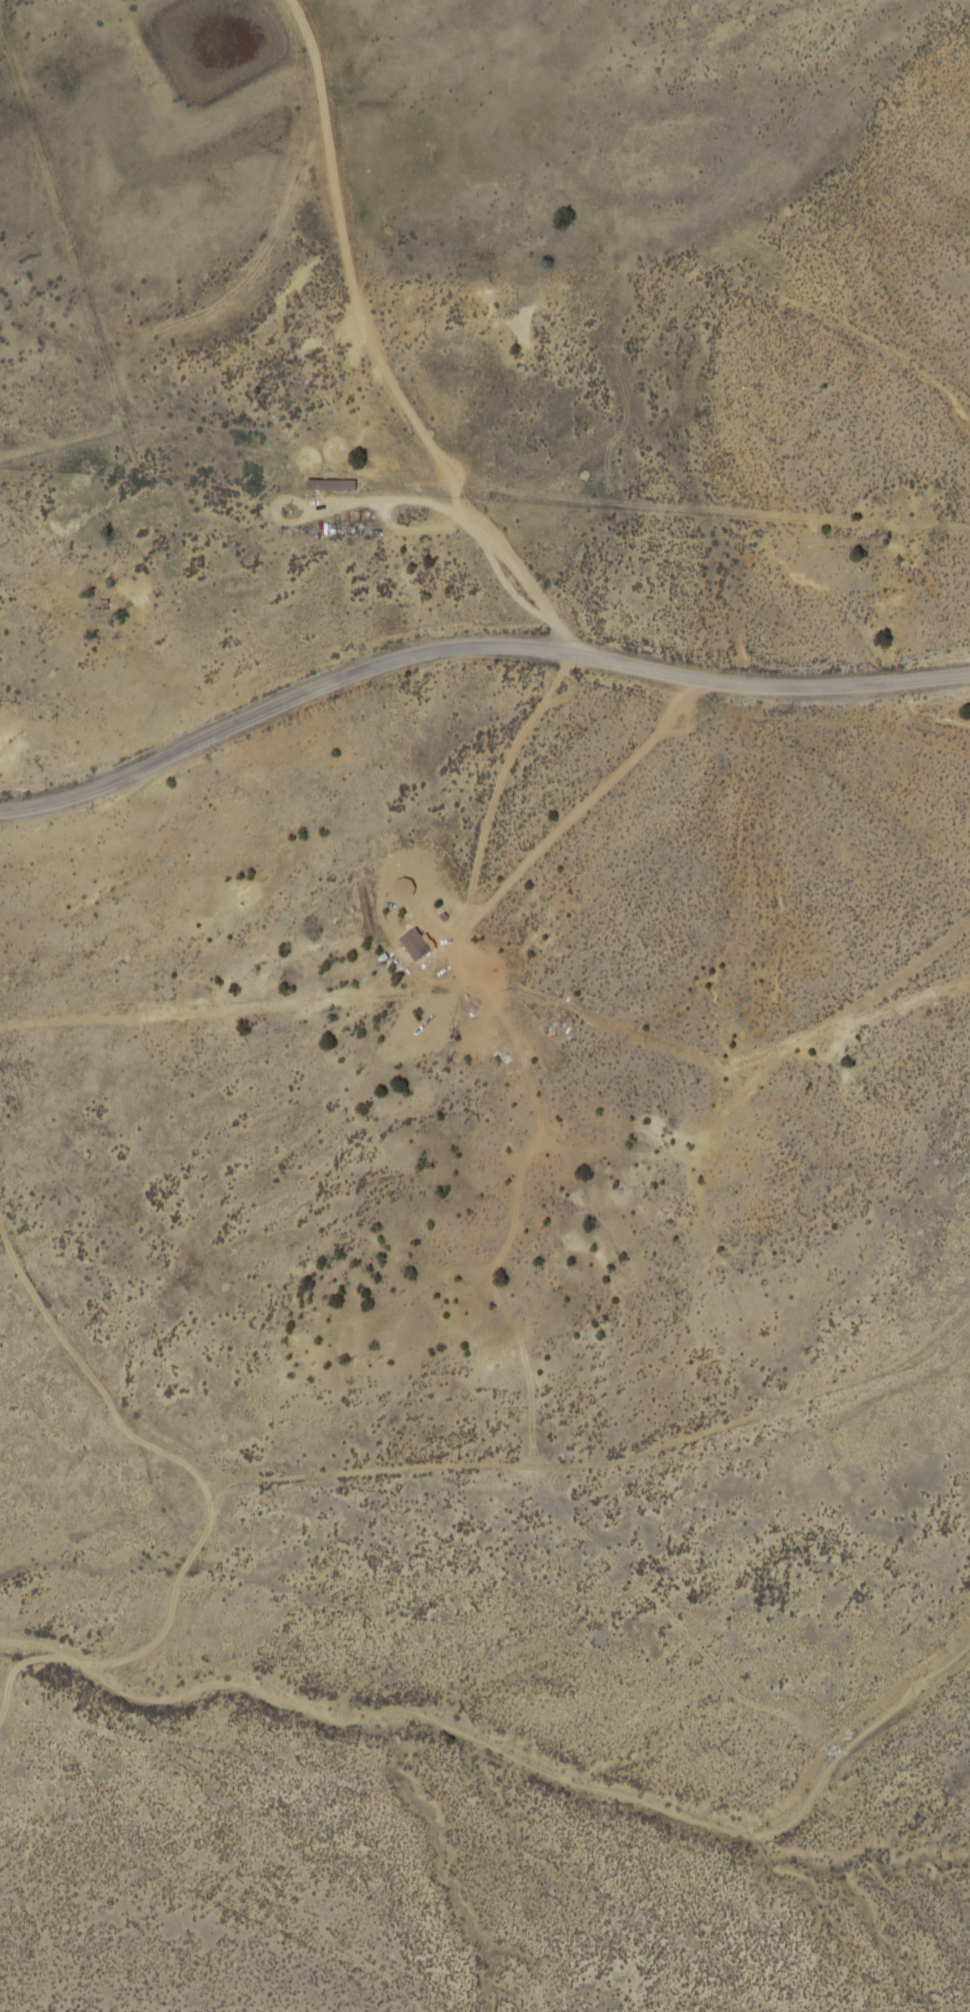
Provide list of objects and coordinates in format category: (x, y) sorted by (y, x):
road: (345, 259)
road: (224, 473)
road: (520, 572)
road: (547, 650)
road: (74, 720)
road: (73, 795)
building: (415, 943)
road: (31, 2005)

